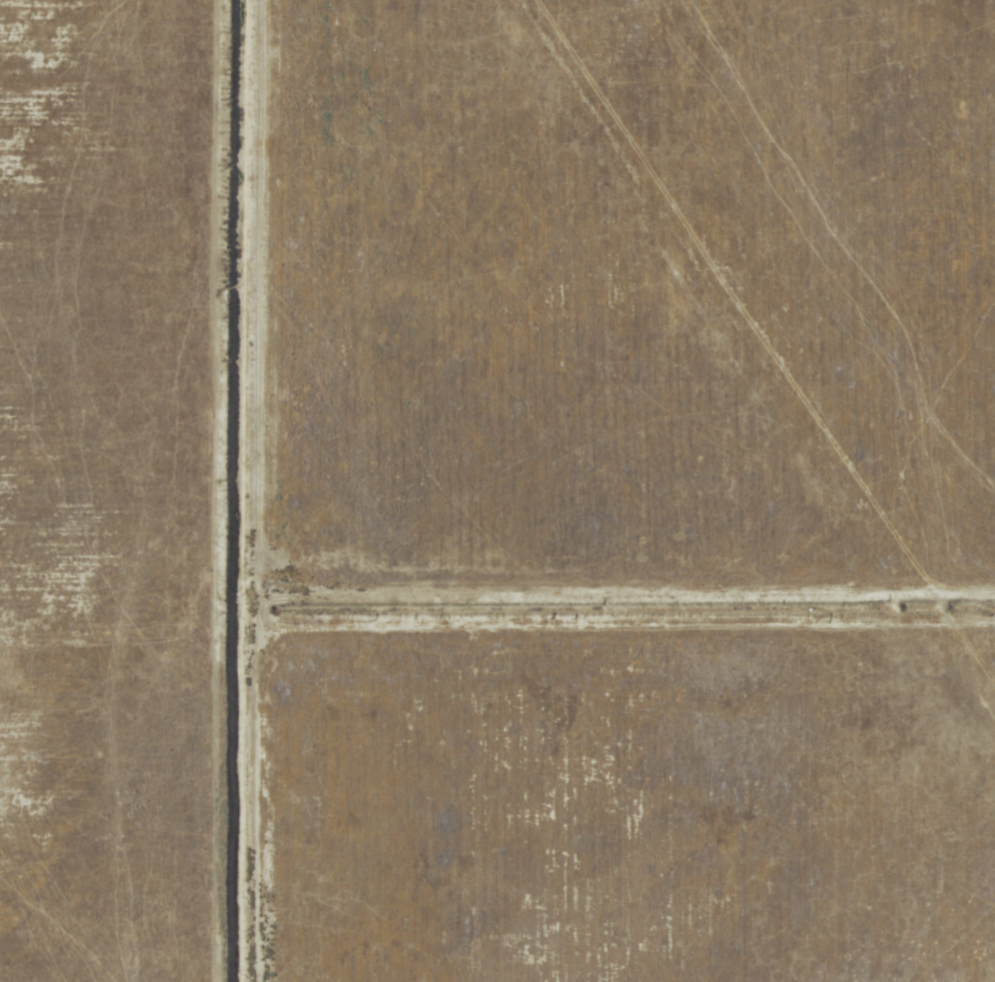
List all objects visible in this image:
road: (770, 335)

